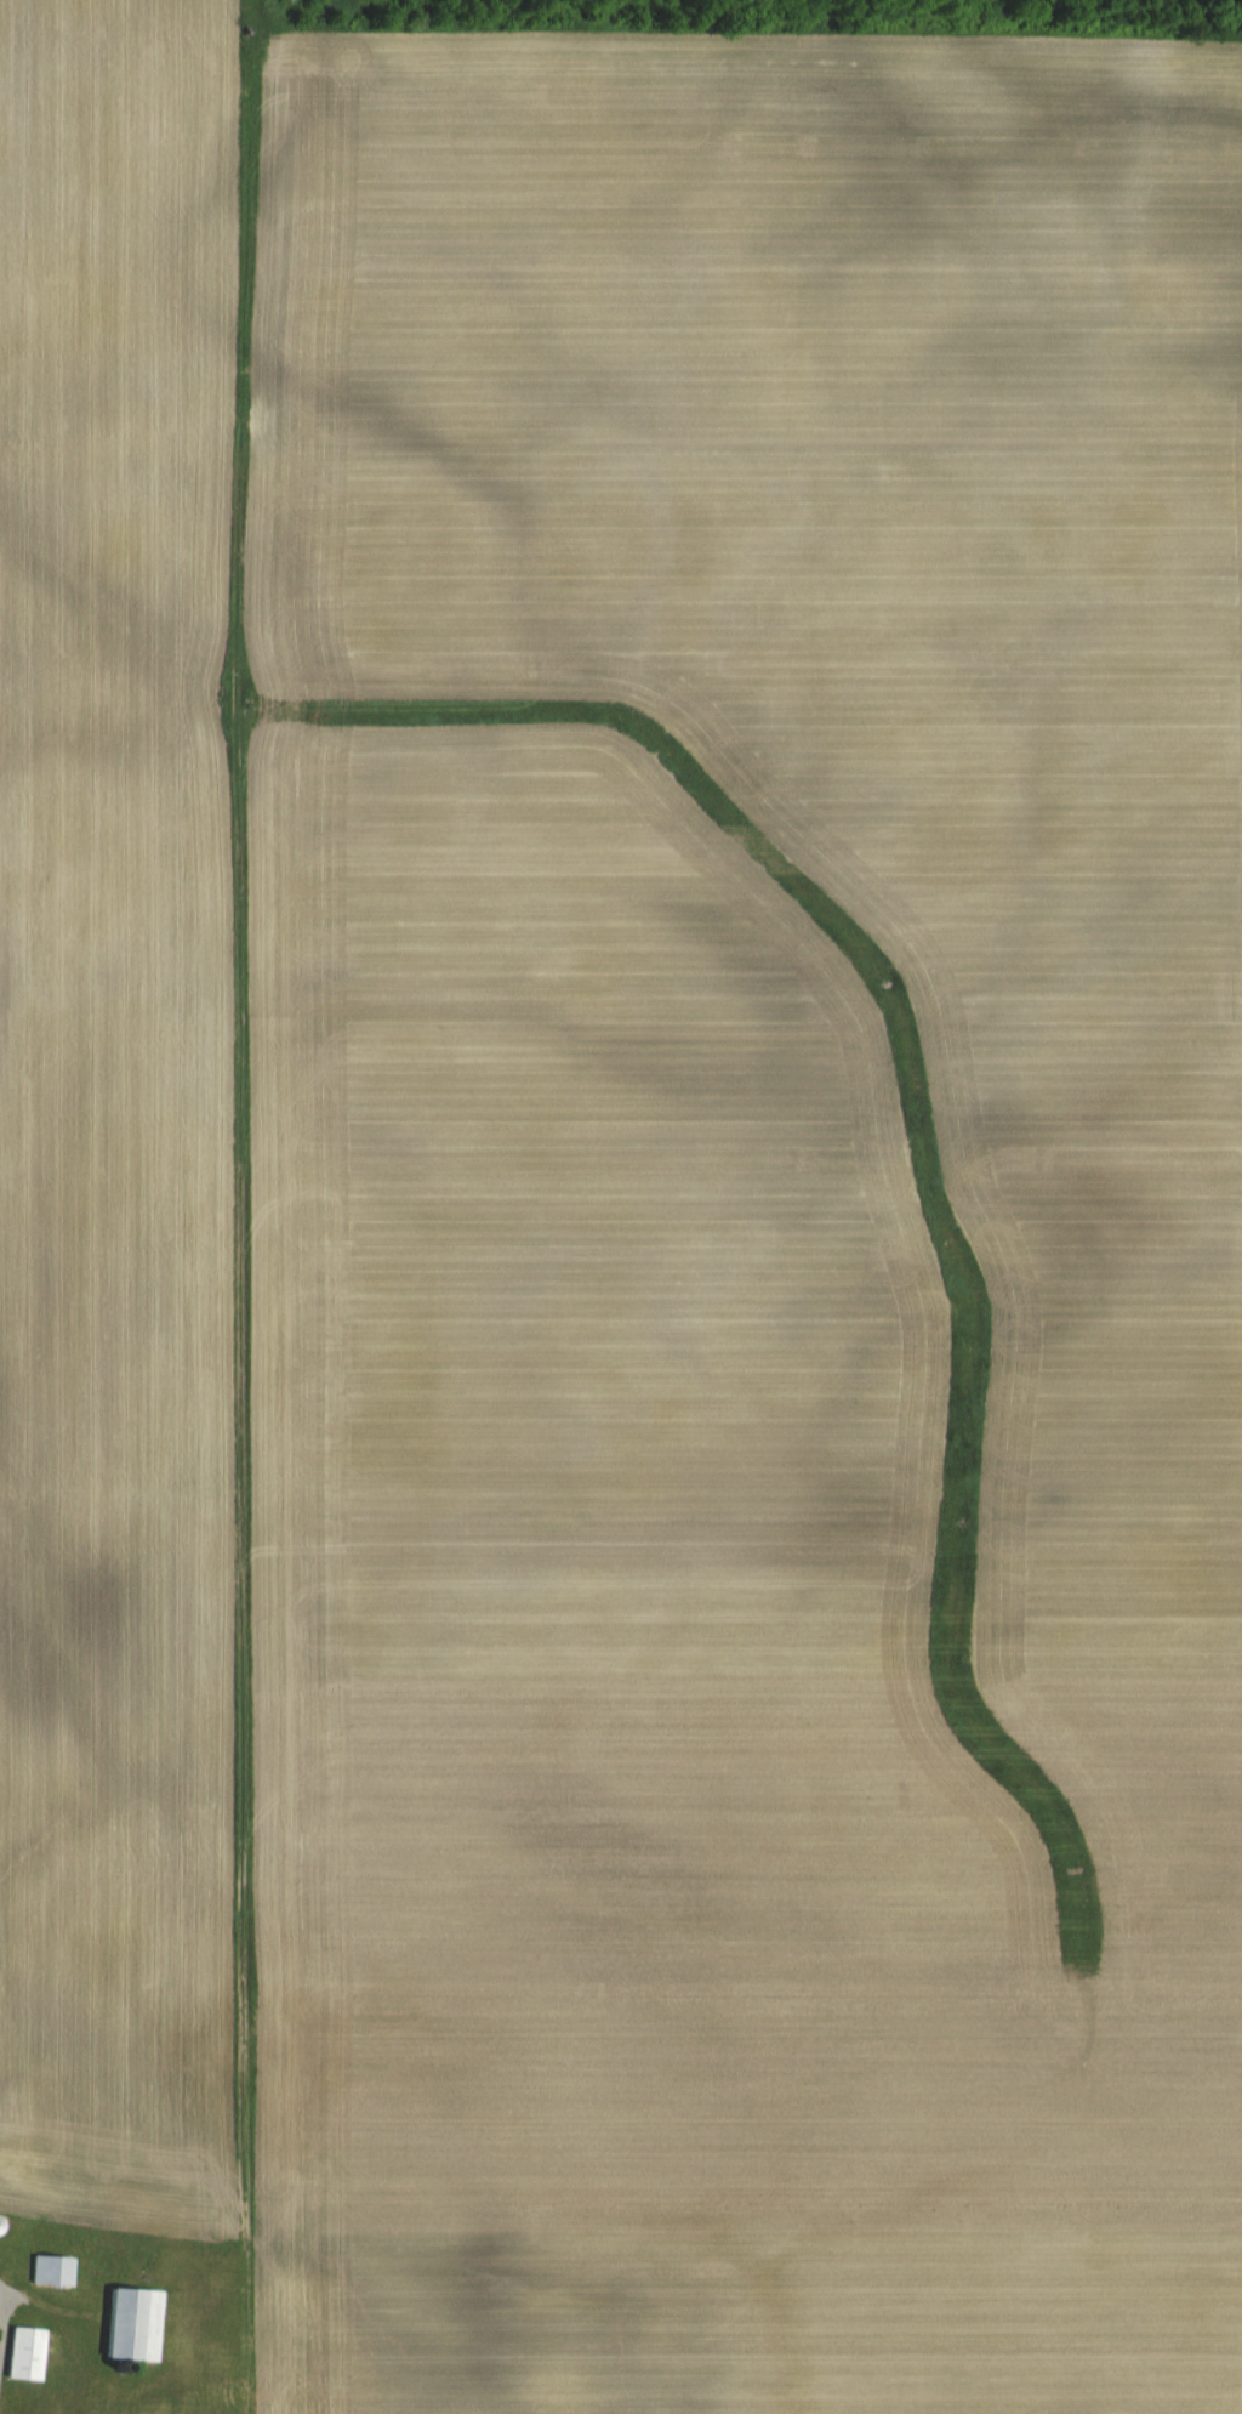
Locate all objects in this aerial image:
crop: (628, 1188)
building: (7, 2259)
building: (50, 2272)
road: (1, 2305)
building: (130, 2325)
building: (22, 2355)

